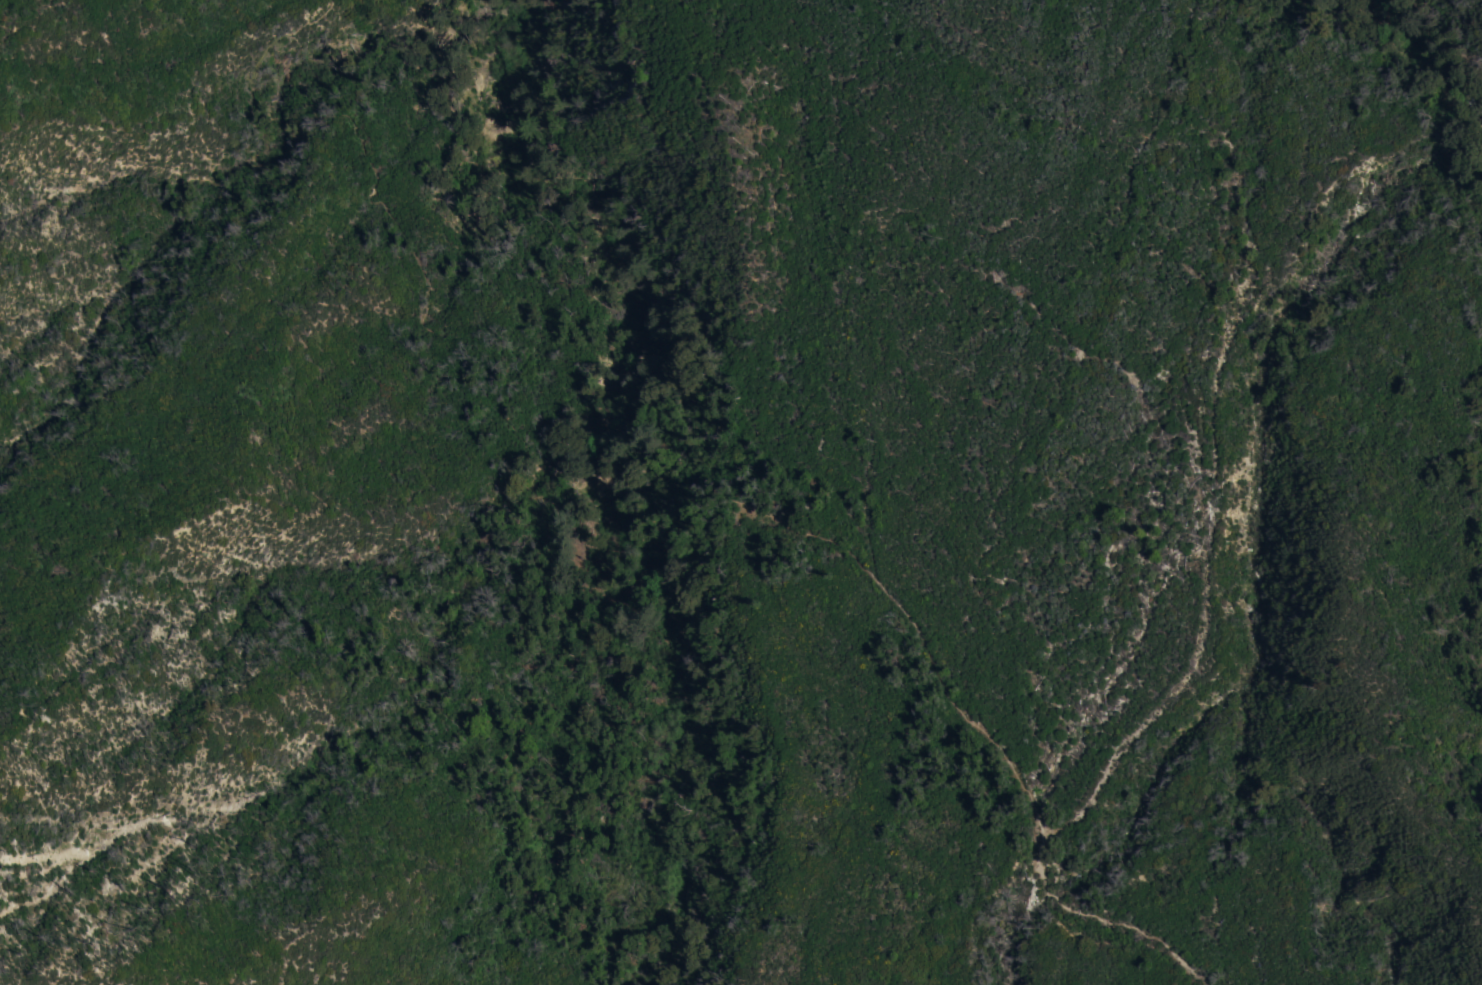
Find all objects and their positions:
road: (428, 329)
road: (991, 731)

